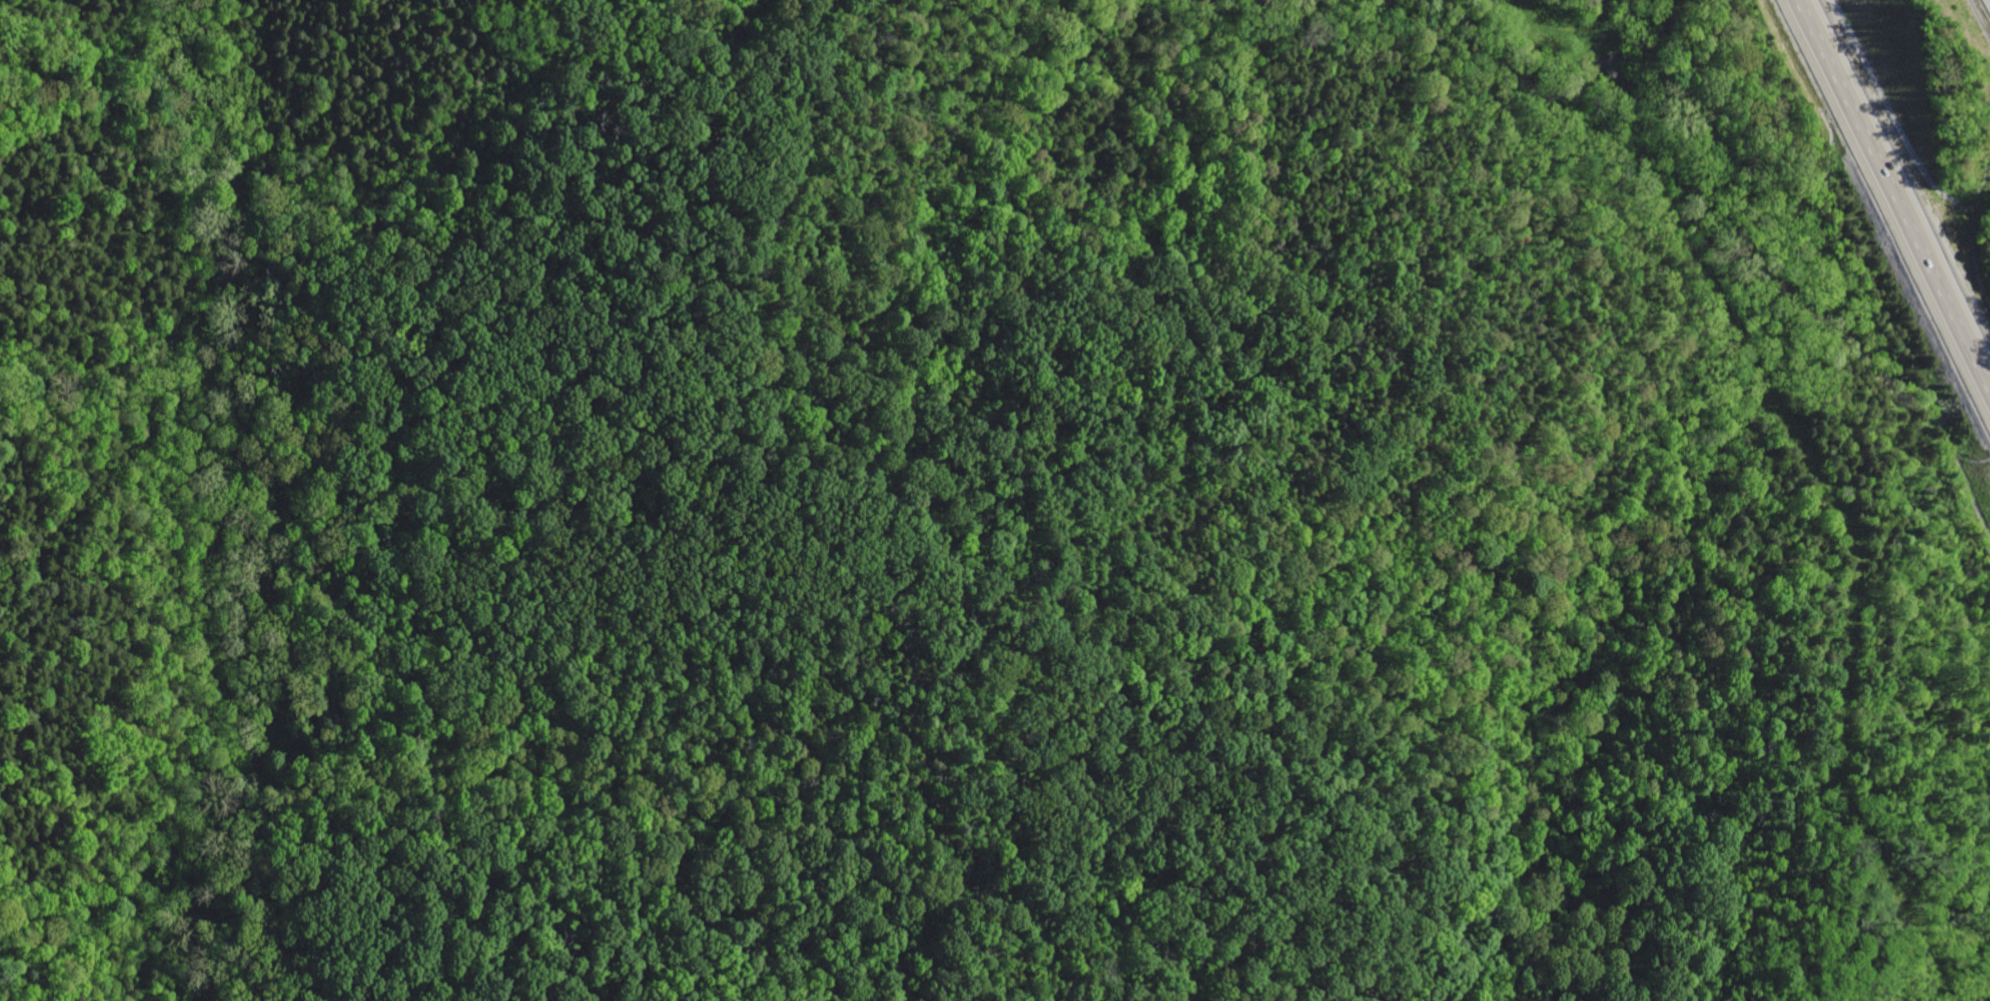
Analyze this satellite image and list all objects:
road: (1891, 201)

